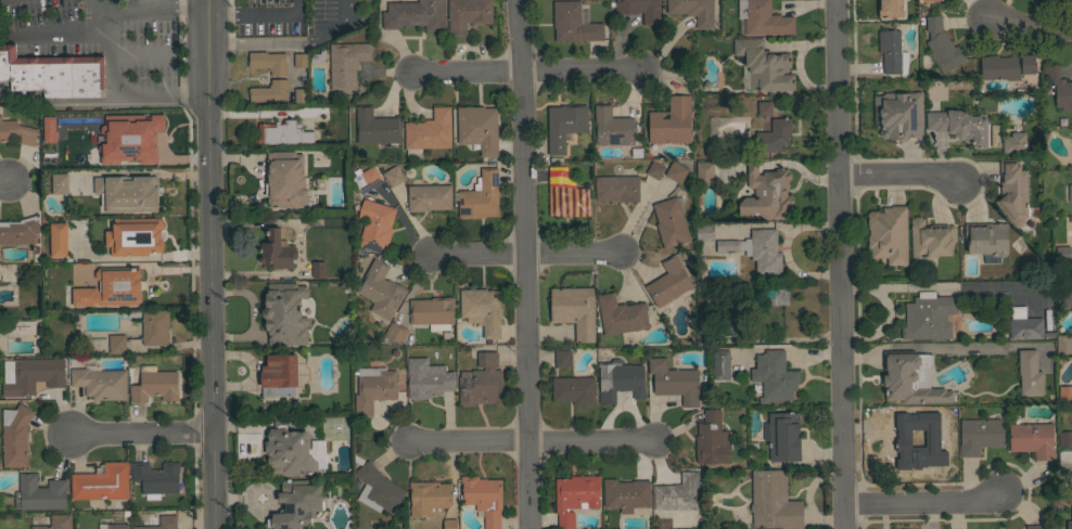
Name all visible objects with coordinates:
building: (927, 0)
road: (143, 8)
building: (888, 9)
building: (640, 10)
building: (693, 11)
road: (257, 14)
building: (414, 14)
building: (467, 14)
road: (344, 16)
building: (763, 18)
building: (573, 23)
road: (1033, 30)
road: (54, 35)
road: (271, 43)
building: (939, 46)
building: (891, 52)
building: (301, 60)
building: (268, 62)
building: (346, 63)
building: (764, 65)
building: (1006, 66)
road: (525, 72)
building: (52, 74)
building: (1059, 87)
building: (268, 91)
road: (117, 93)
building: (301, 94)
building: (764, 107)
building: (899, 115)
building: (671, 121)
building: (564, 125)
building: (960, 125)
building: (374, 127)
building: (612, 127)
building: (477, 128)
building: (17, 130)
building: (42, 130)
building: (429, 131)
building: (281, 133)
building: (774, 134)
building: (123, 139)
building: (1013, 142)
building: (1070, 149)
building: (654, 170)
building: (676, 171)
building: (704, 172)
building: (393, 176)
road: (898, 176)
building: (367, 178)
building: (284, 179)
building: (59, 183)
road: (5, 186)
building: (616, 188)
building: (1012, 191)
building: (128, 193)
building: (1070, 193)
building: (766, 194)
building: (565, 195)
building: (480, 196)
building: (429, 197)
building: (669, 222)
building: (373, 225)
building: (18, 230)
building: (704, 232)
building: (888, 234)
building: (135, 236)
building: (986, 237)
building: (58, 238)
building: (930, 238)
building: (276, 250)
building: (756, 250)
building: (1062, 253)
road: (523, 254)
road: (210, 263)
road: (523, 263)
road: (837, 264)
building: (318, 269)
building: (668, 282)
building: (111, 288)
building: (380, 289)
building: (703, 293)
building: (773, 294)
building: (21, 297)
building: (1063, 297)
building: (482, 309)
building: (431, 310)
building: (574, 310)
building: (284, 314)
building: (621, 315)
building: (928, 317)
building: (1023, 324)
building: (155, 326)
building: (20, 327)
building: (733, 331)
building: (396, 332)
building: (116, 344)
building: (1063, 344)
building: (562, 359)
building: (720, 364)
building: (1029, 373)
building: (30, 375)
building: (279, 375)
building: (774, 375)
building: (910, 378)
building: (620, 379)
building: (427, 380)
building: (481, 380)
building: (674, 380)
building: (100, 383)
building: (154, 385)
building: (373, 388)
building: (574, 389)
building: (1064, 391)
road: (140, 433)
building: (980, 435)
building: (12, 436)
building: (782, 436)
building: (1064, 438)
building: (712, 439)
building: (1032, 439)
building: (914, 441)
road: (532, 442)
building: (289, 451)
building: (311, 453)
building: (1064, 457)
building: (155, 478)
building: (101, 482)
building: (378, 489)
building: (39, 493)
building: (677, 493)
building: (626, 494)
building: (574, 495)
building: (427, 498)
building: (483, 498)
building: (773, 501)
building: (295, 505)
building: (1071, 505)
road: (922, 506)
building: (162, 521)
building: (56, 522)
building: (449, 524)
building: (1068, 525)
building: (117, 526)
building: (1035, 527)

